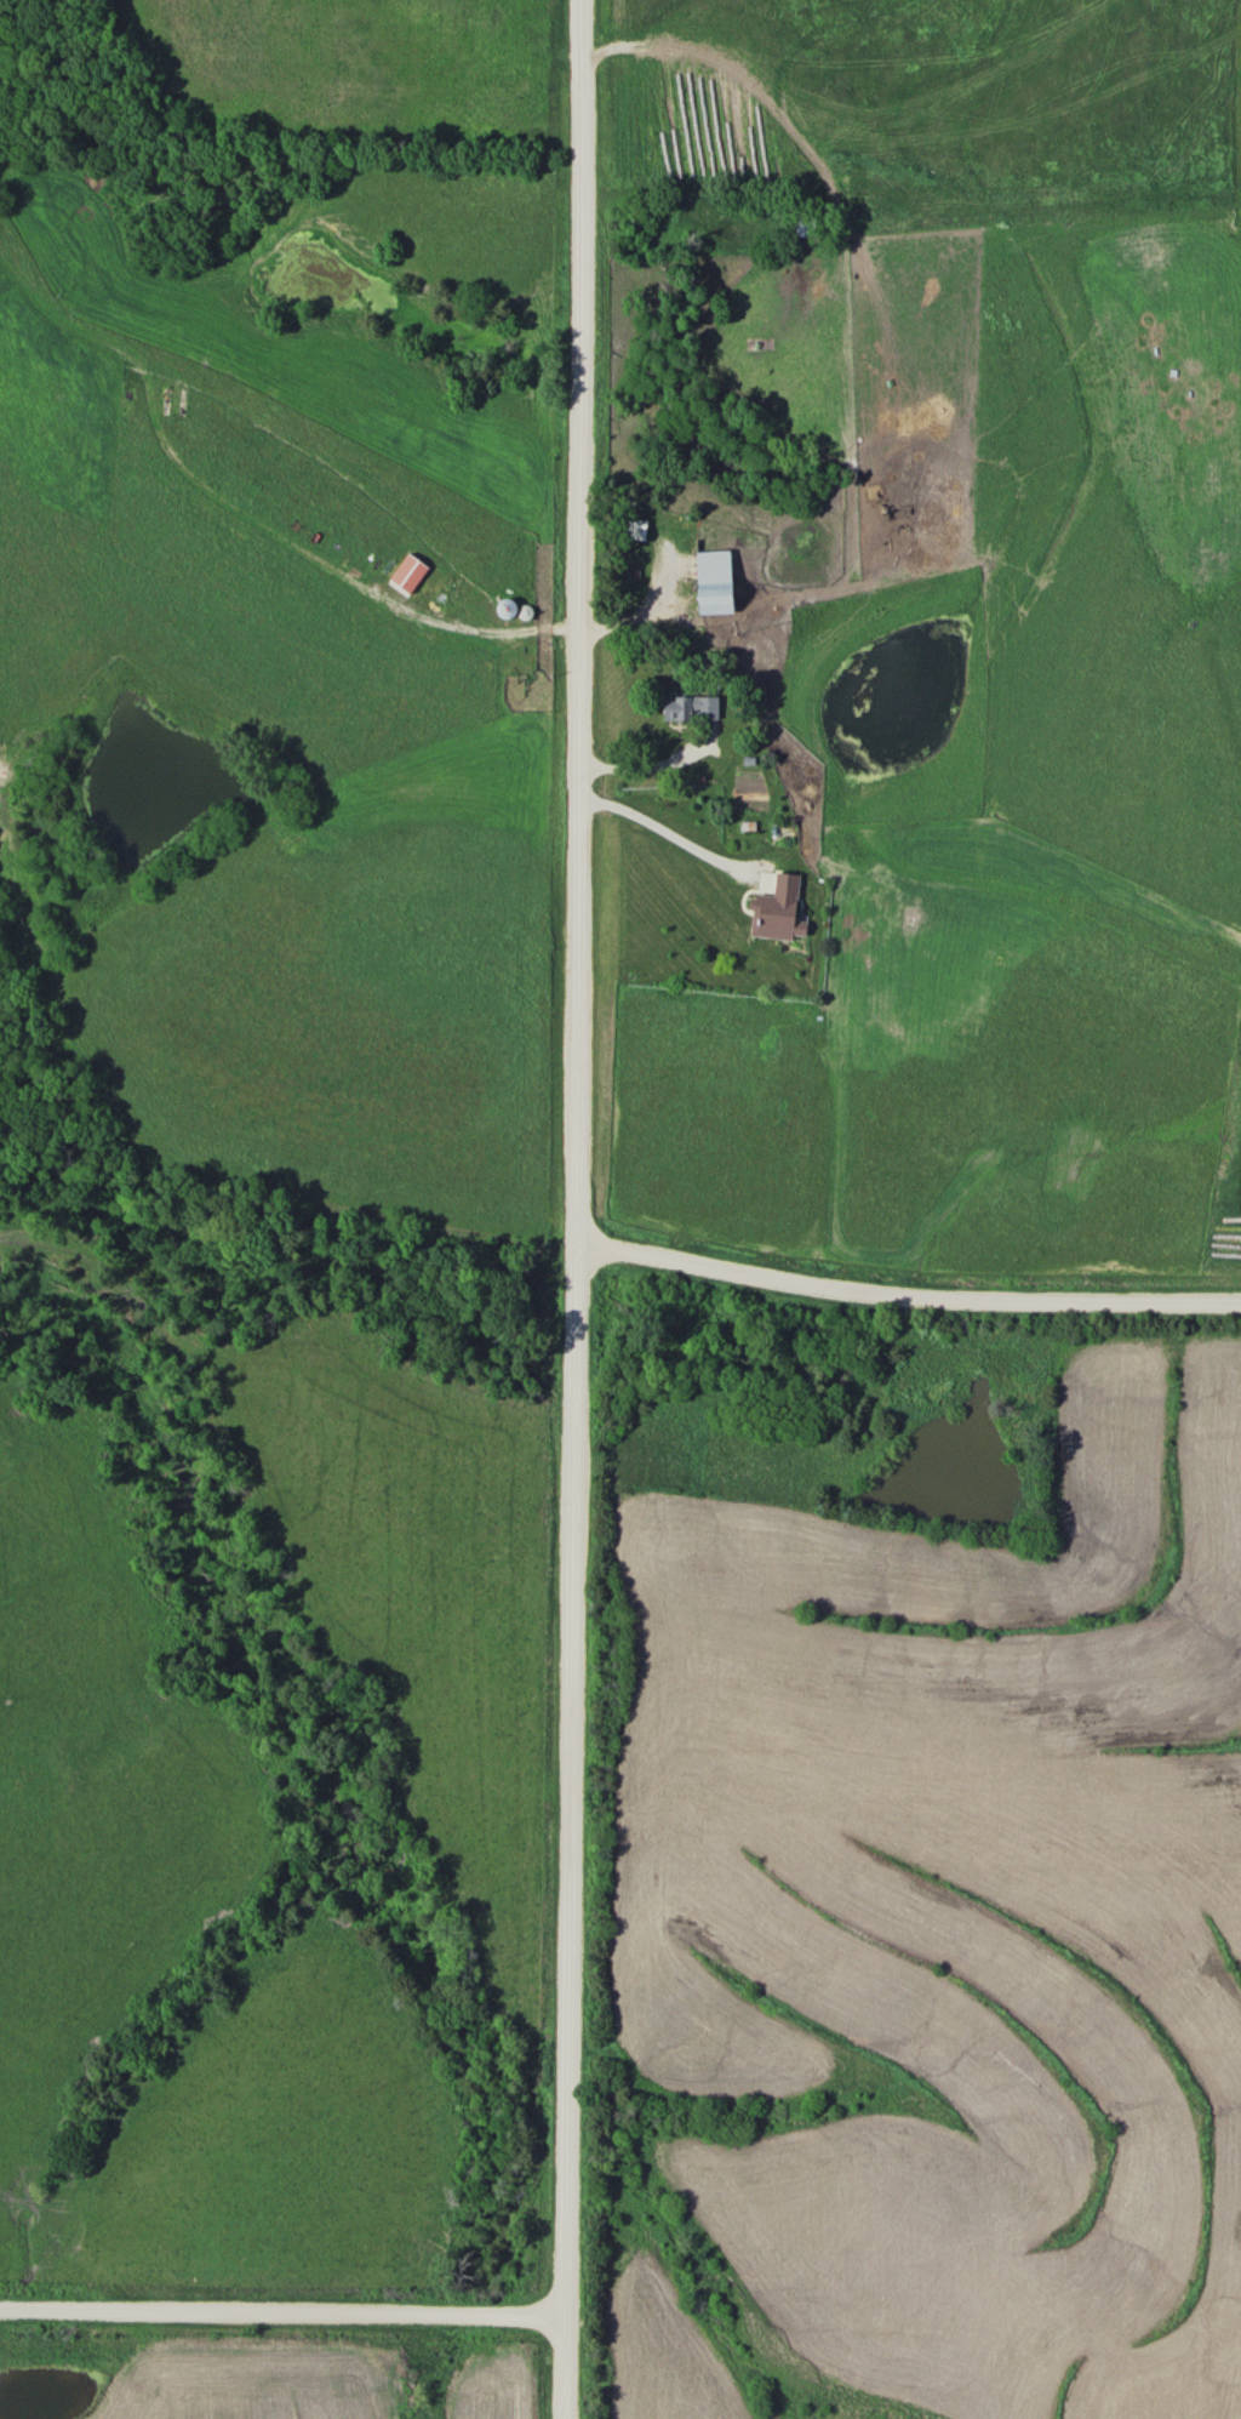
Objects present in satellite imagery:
building: (633, 529)
building: (709, 581)
building: (502, 607)
building: (686, 707)
road: (650, 761)
building: (772, 908)
road: (577, 1209)
road: (907, 1293)
road: (281, 2309)

